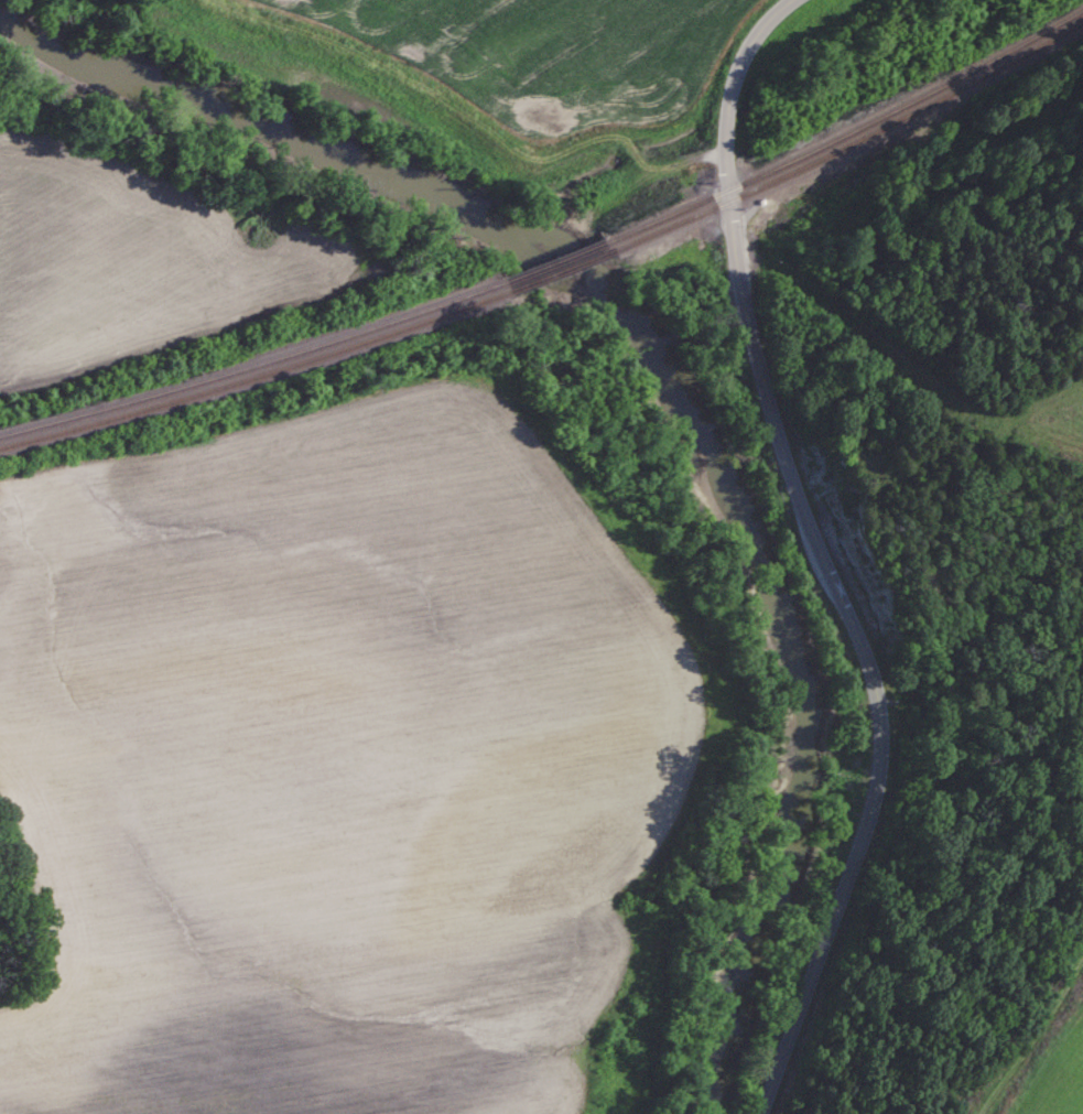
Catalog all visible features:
railway: (848, 132)
railway: (852, 145)
railway: (551, 263)
railway: (559, 273)
railway: (249, 368)
railway: (254, 379)
road: (819, 554)

